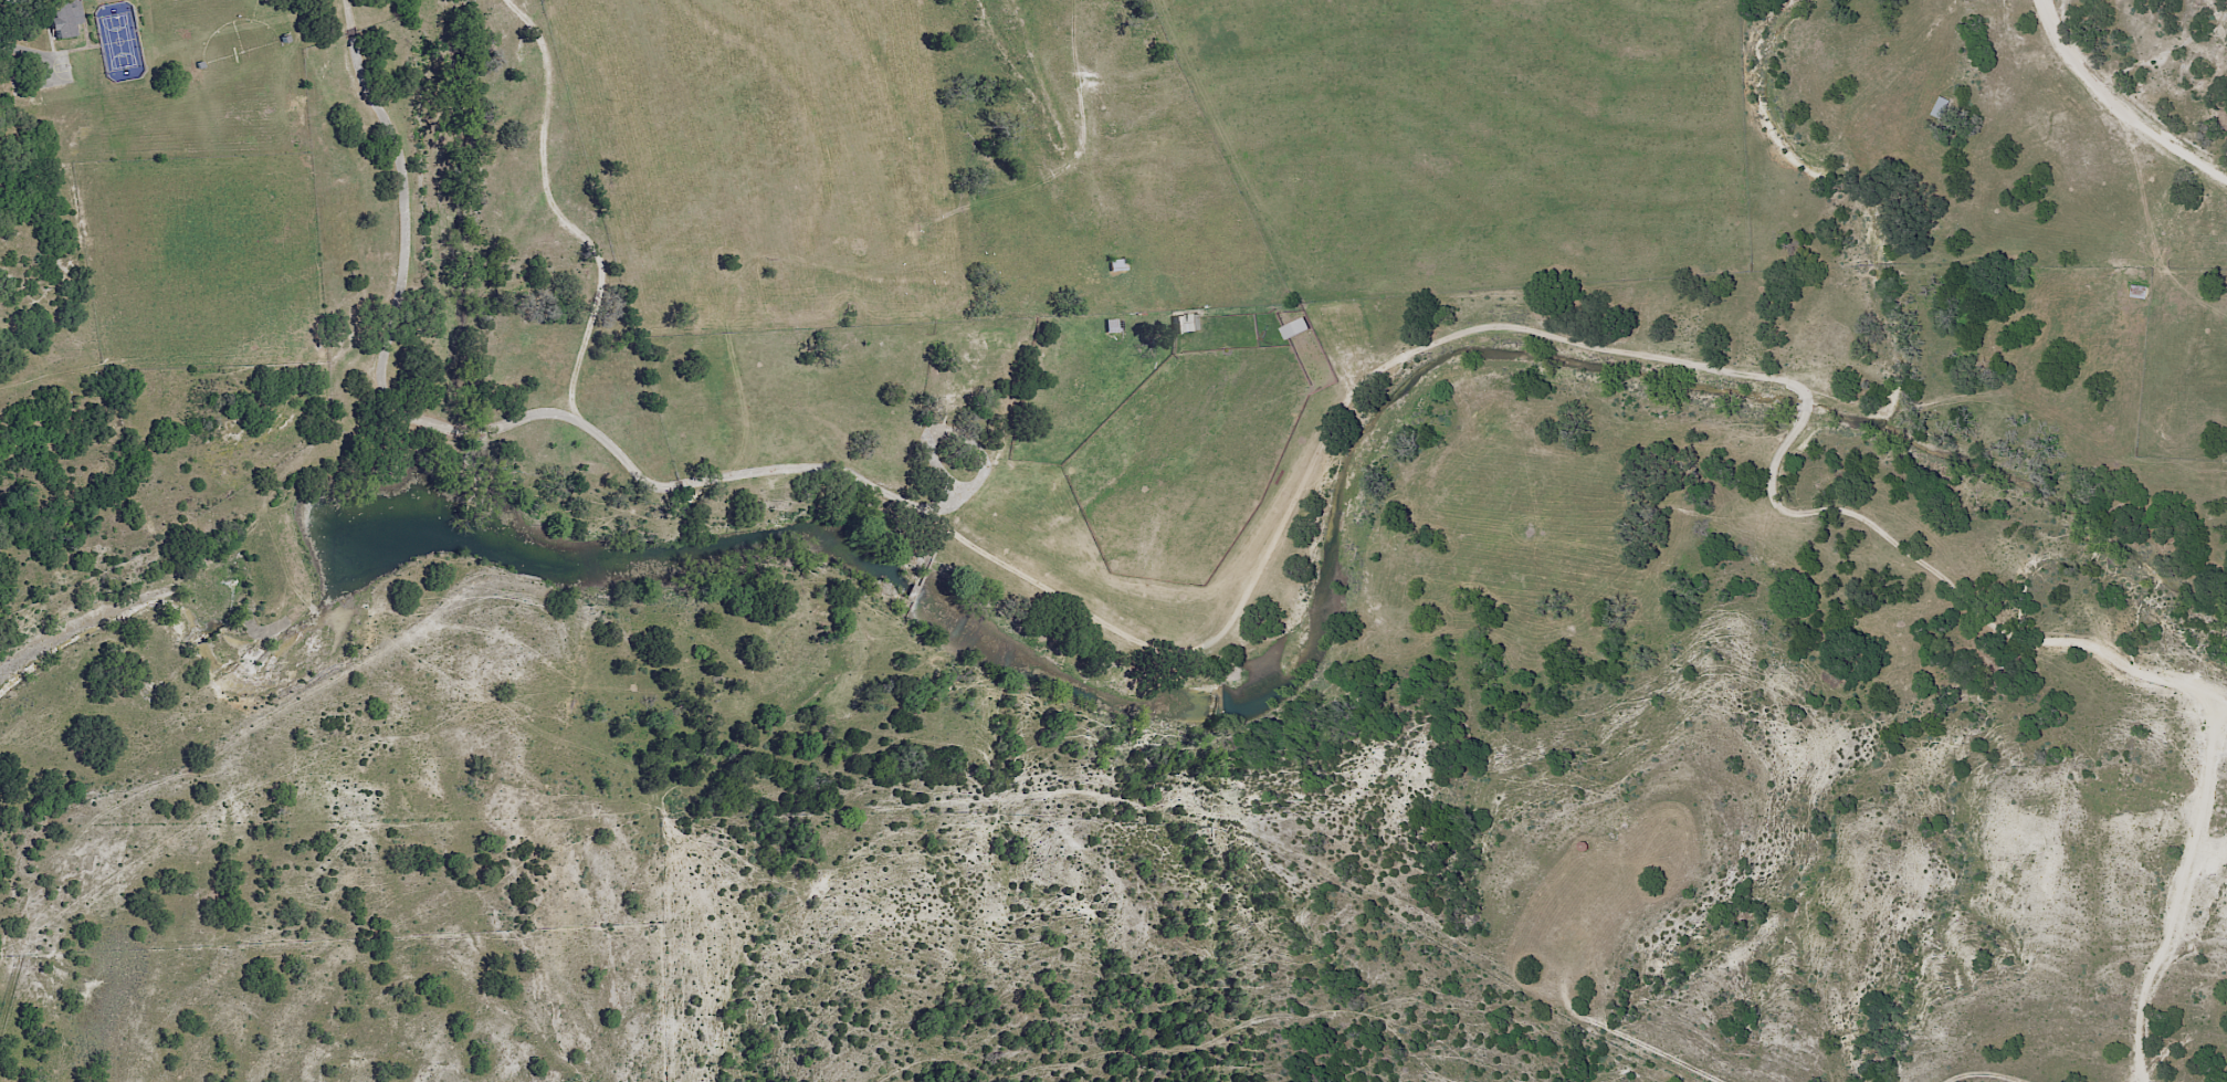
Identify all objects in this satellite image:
building: (59, 17)
road: (2118, 108)
building: (1942, 111)
building: (1118, 266)
building: (1184, 325)
building: (1294, 330)
road: (167, 371)
building: (959, 400)
road: (986, 465)
road: (1239, 620)
road: (2189, 889)

